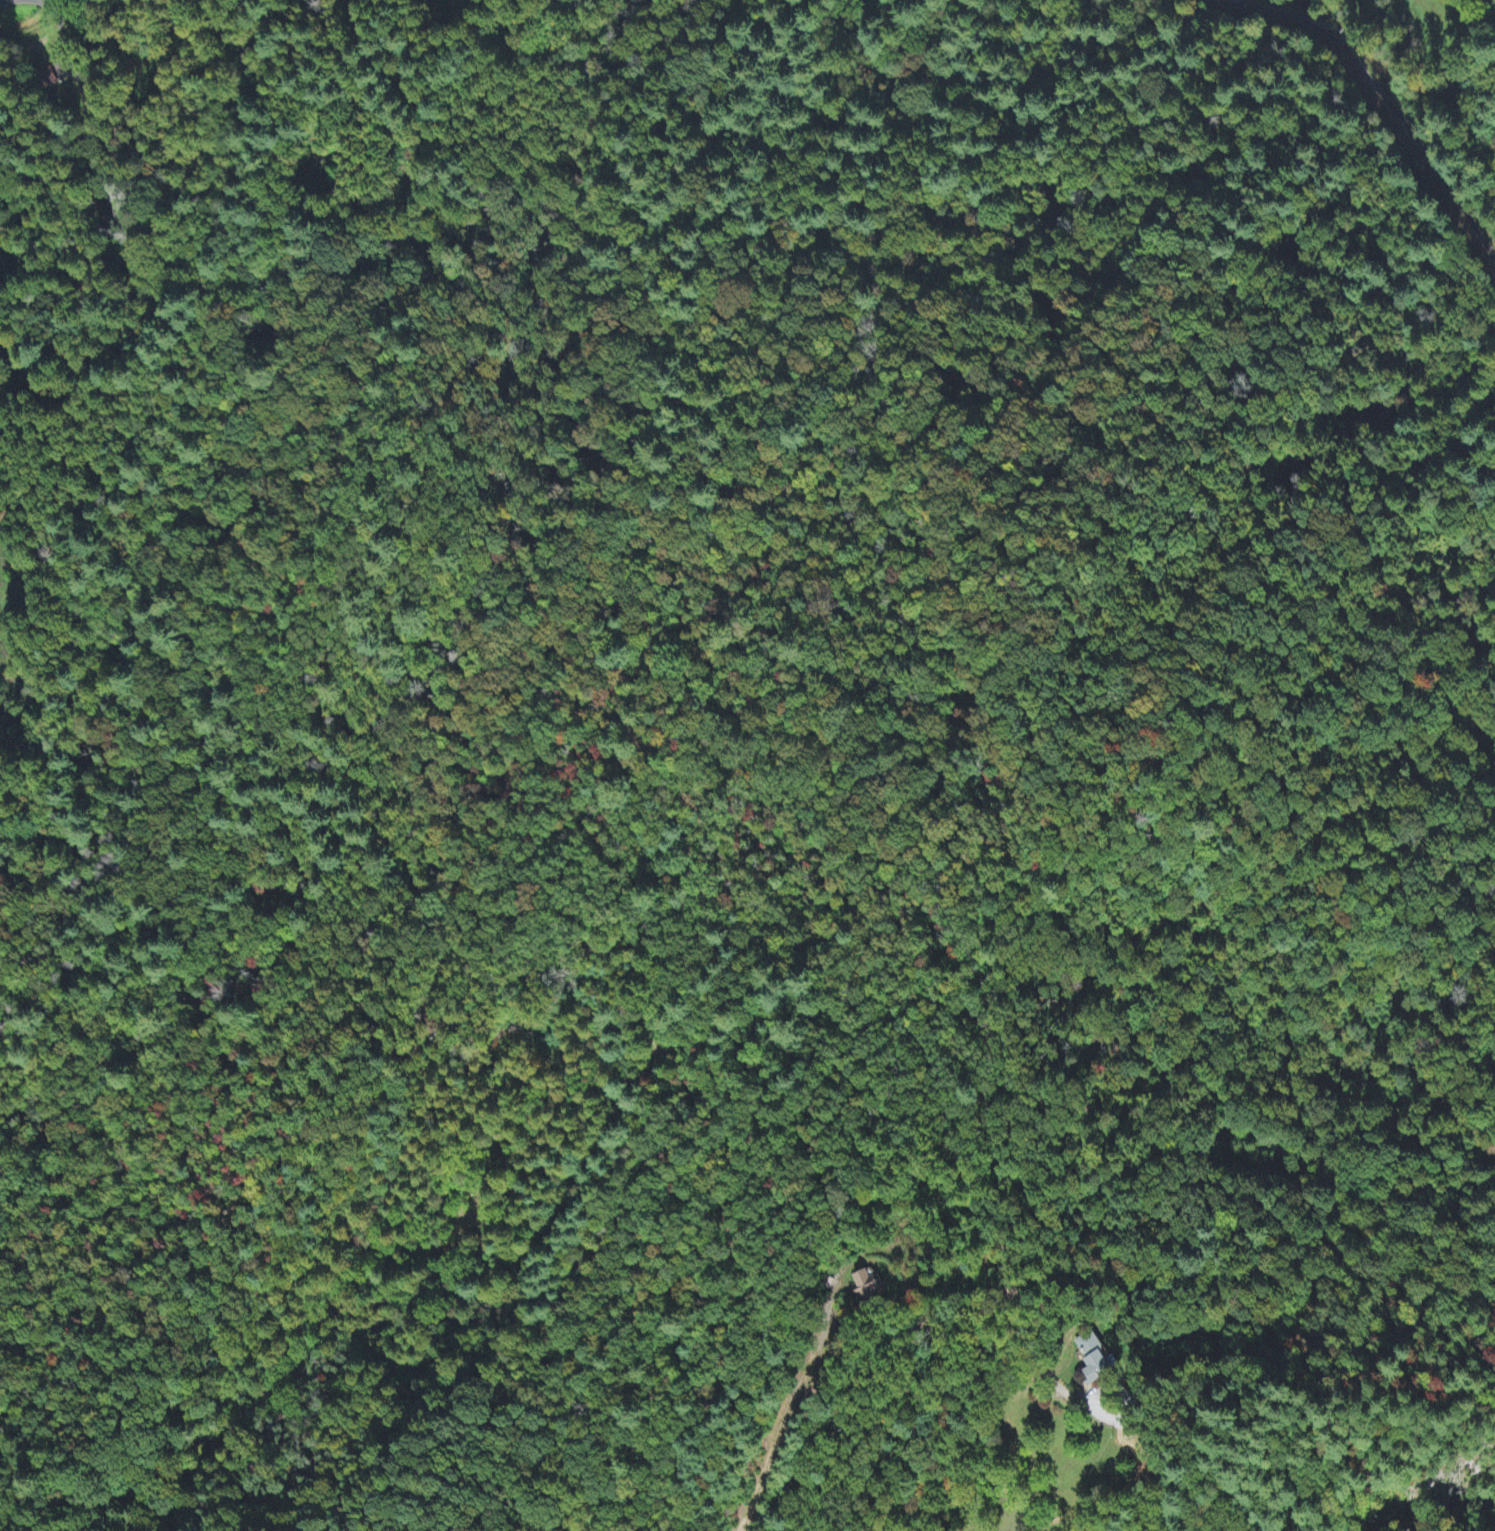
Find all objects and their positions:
road: (593, 965)
building: (872, 1286)
building: (1099, 1361)
road: (867, 1407)
road: (1140, 1494)

